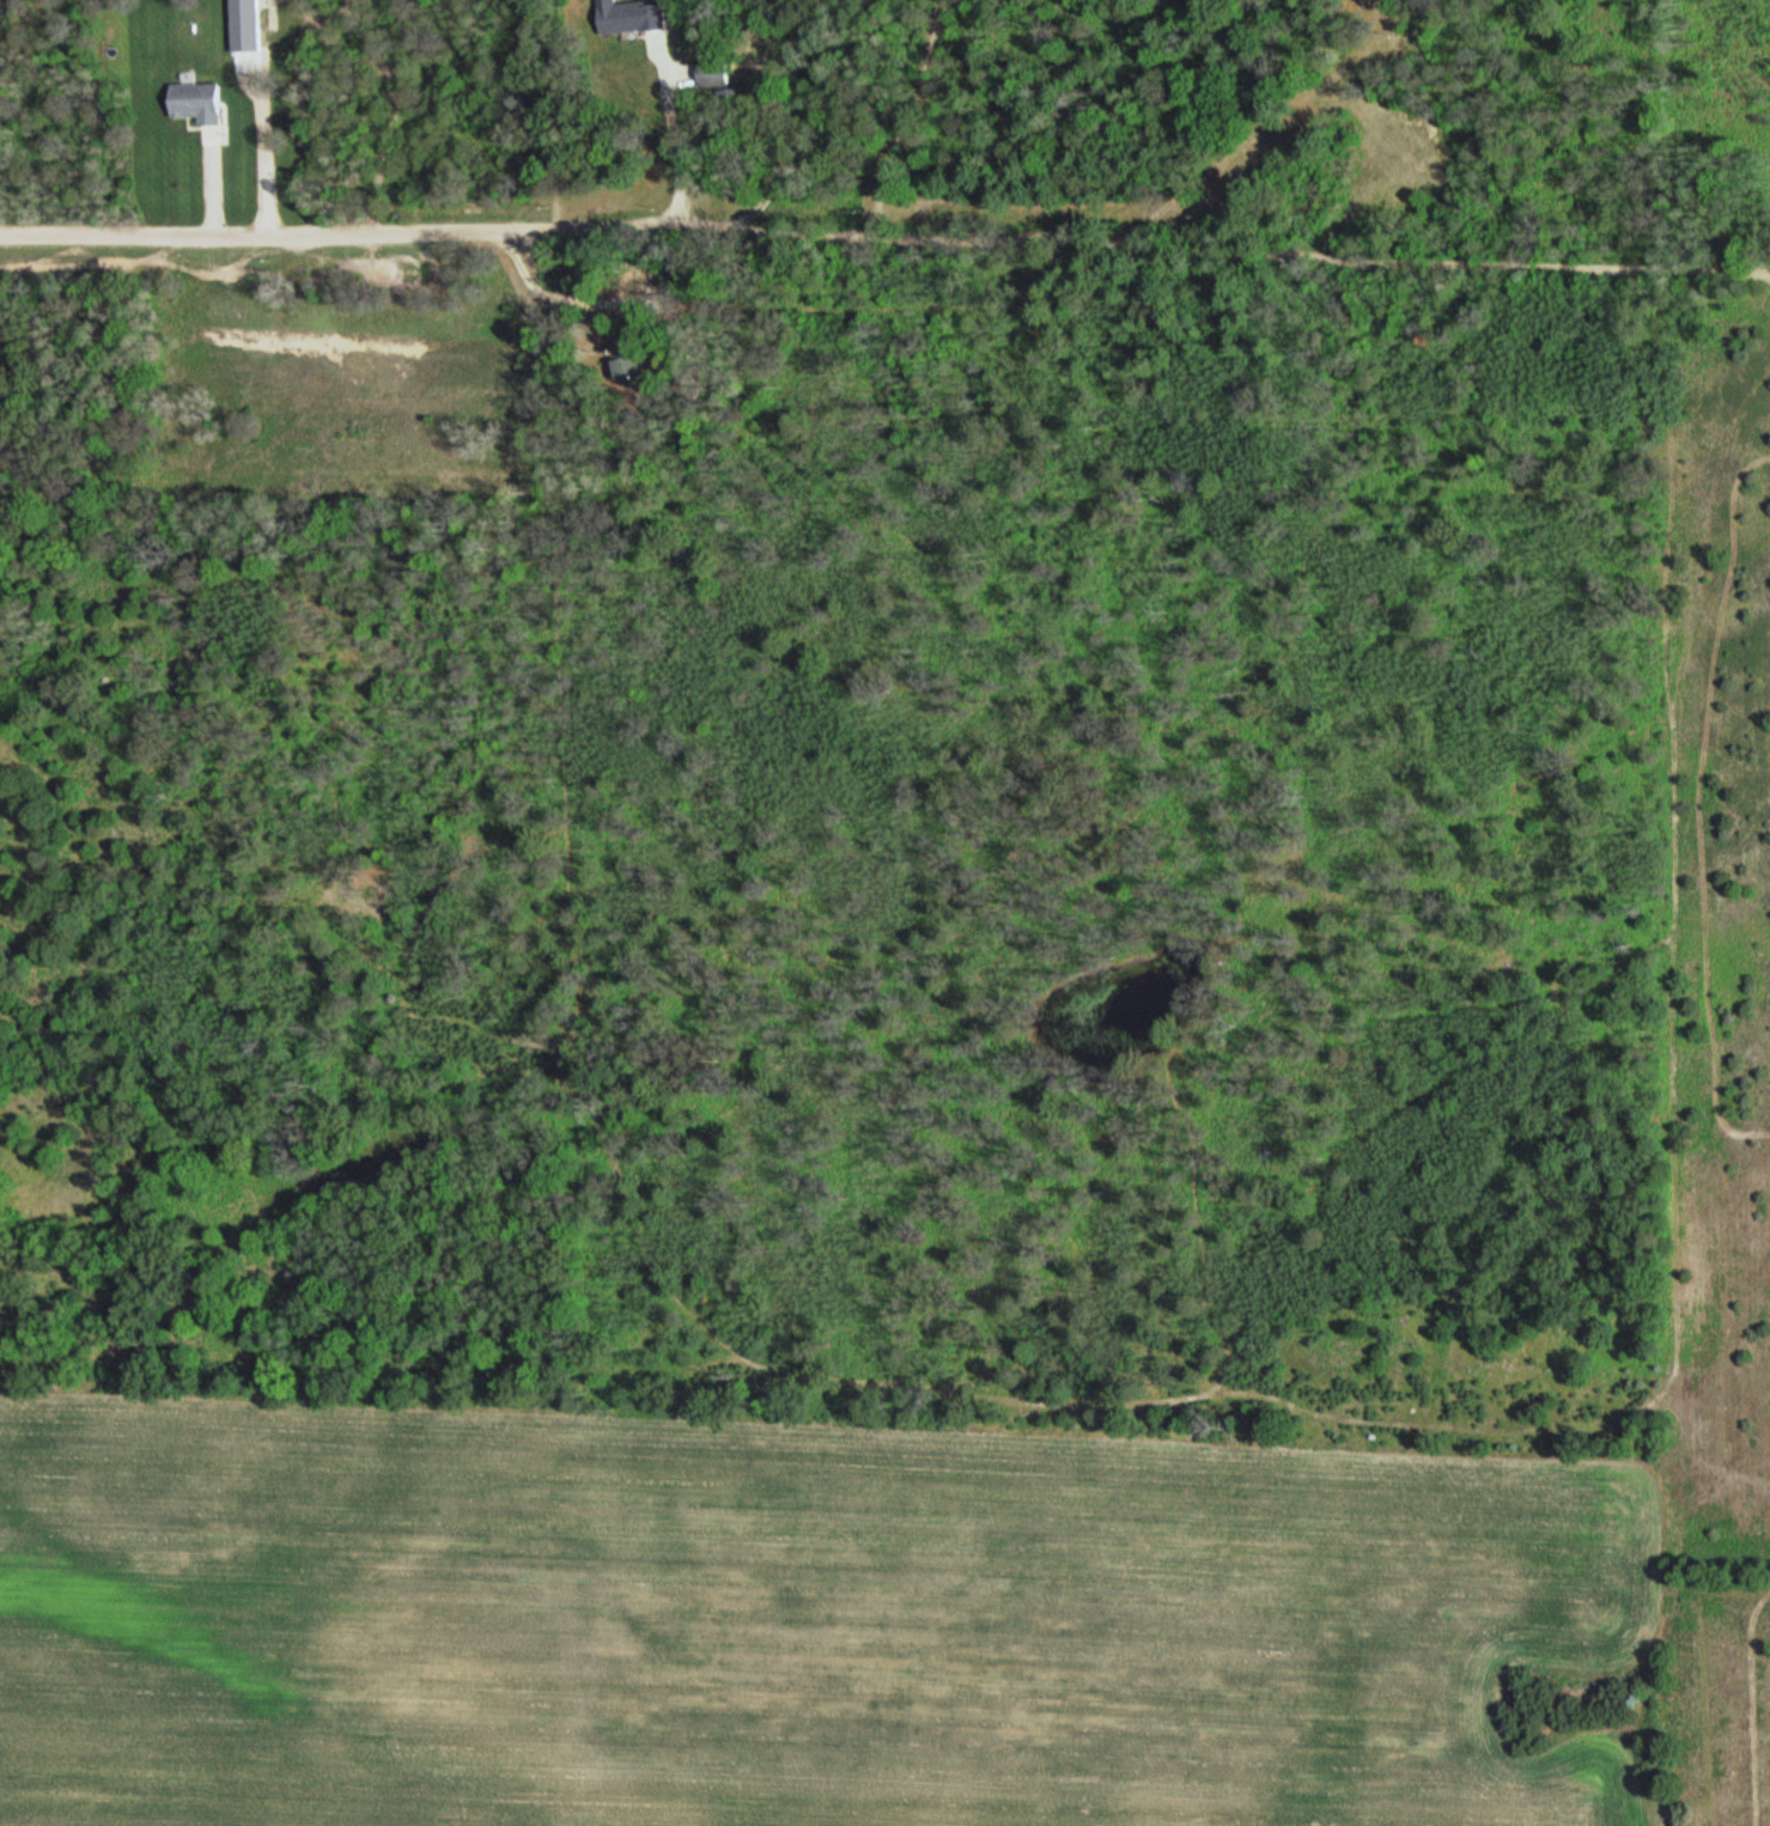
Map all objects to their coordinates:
building: (247, 14)
building: (620, 18)
building: (710, 73)
building: (201, 101)
road: (884, 241)
building: (622, 357)

